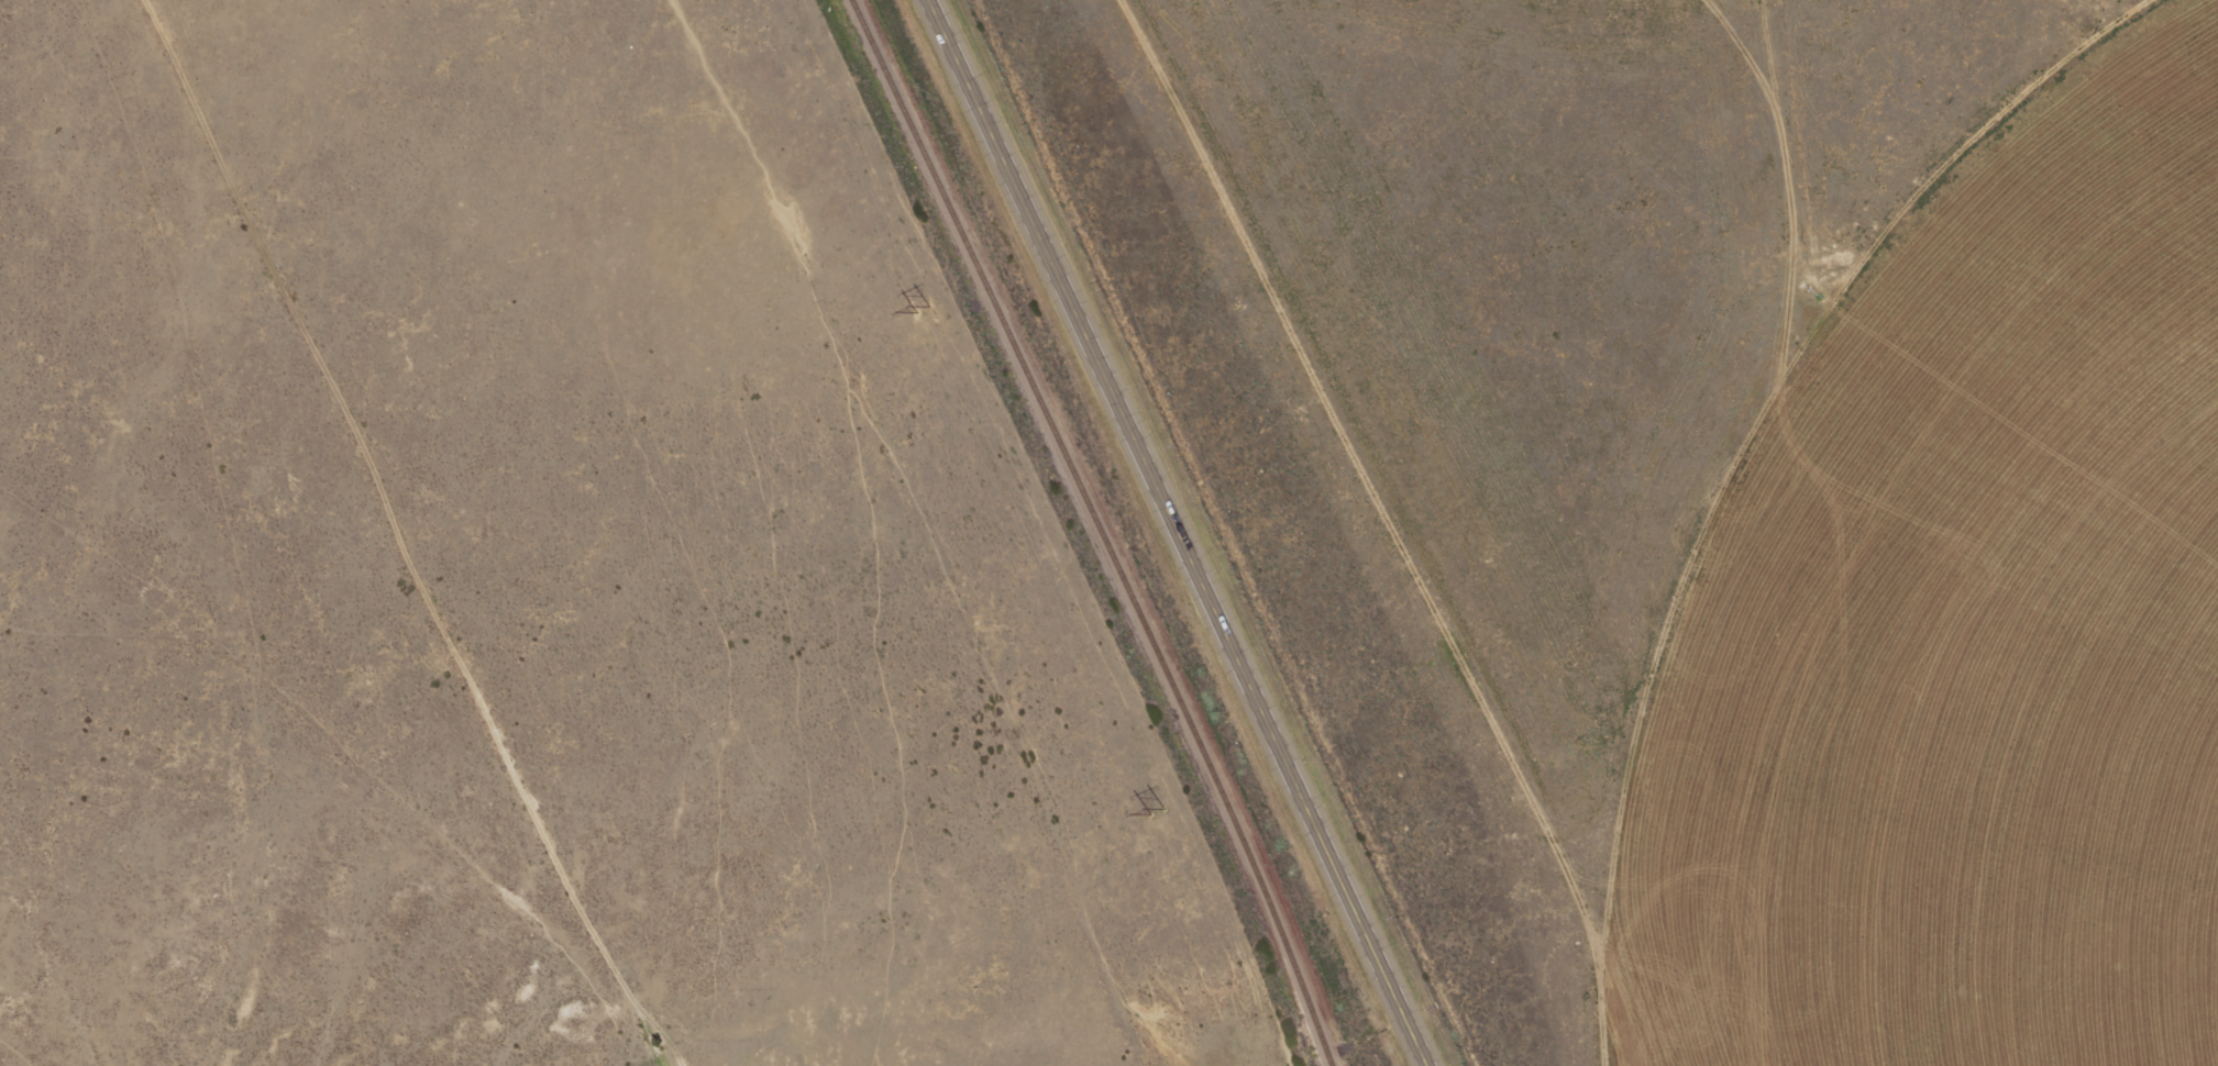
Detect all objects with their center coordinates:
power tower: (917, 310)
railway: (1096, 529)
road: (1180, 532)
road: (407, 540)
power tower: (1155, 812)

